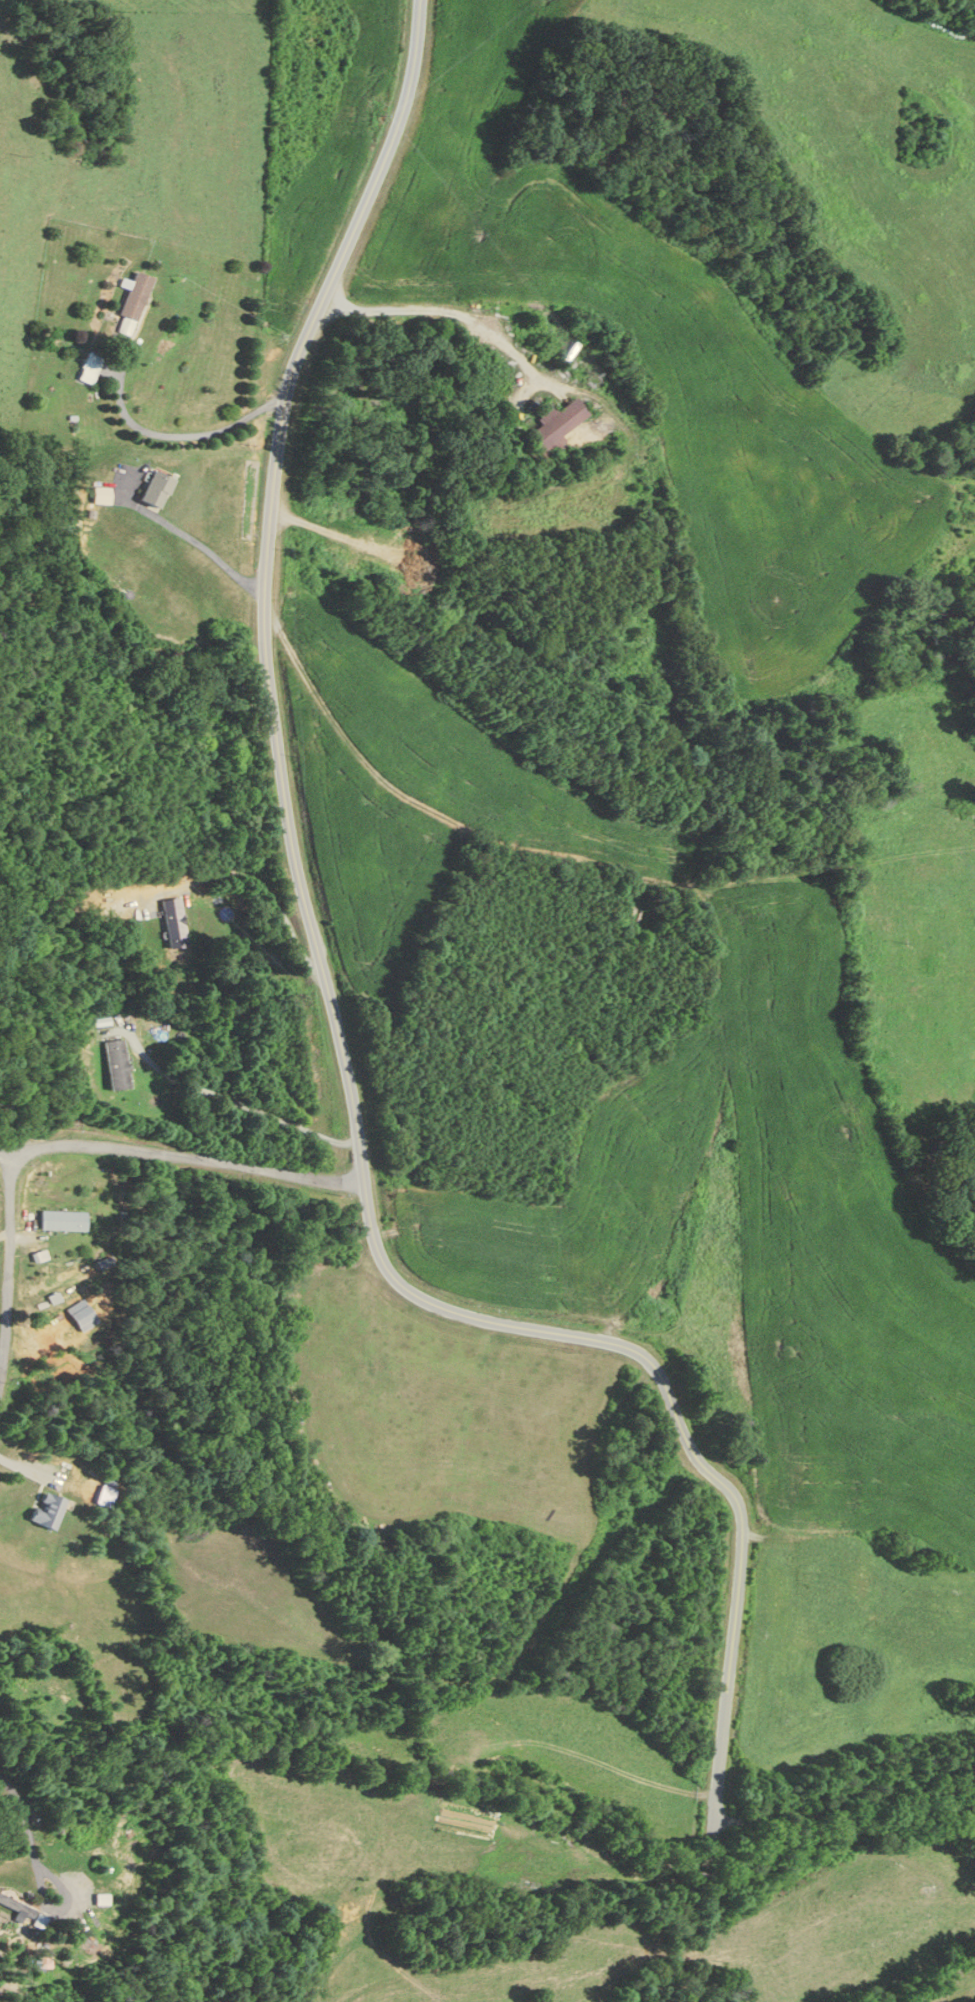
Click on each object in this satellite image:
road: (66, 1)
building: (133, 303)
building: (89, 368)
building: (556, 426)
road: (178, 437)
building: (156, 489)
building: (101, 495)
road: (186, 539)
building: (968, 810)
building: (174, 925)
road: (337, 1023)
building: (117, 1066)
road: (231, 1099)
road: (182, 1154)
building: (64, 1219)
road: (7, 1261)
building: (48, 1509)
road: (25, 1815)
building: (16, 1905)
road: (64, 1906)

